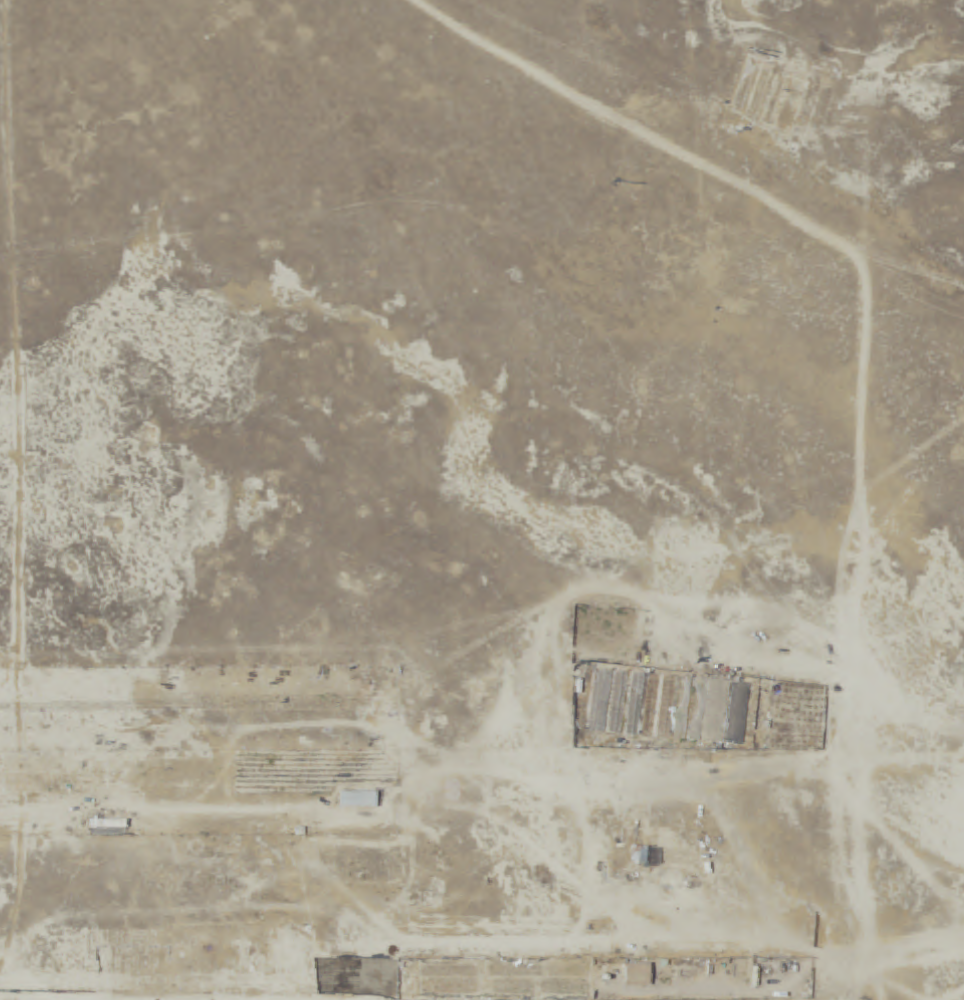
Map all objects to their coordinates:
building: (635, 975)

